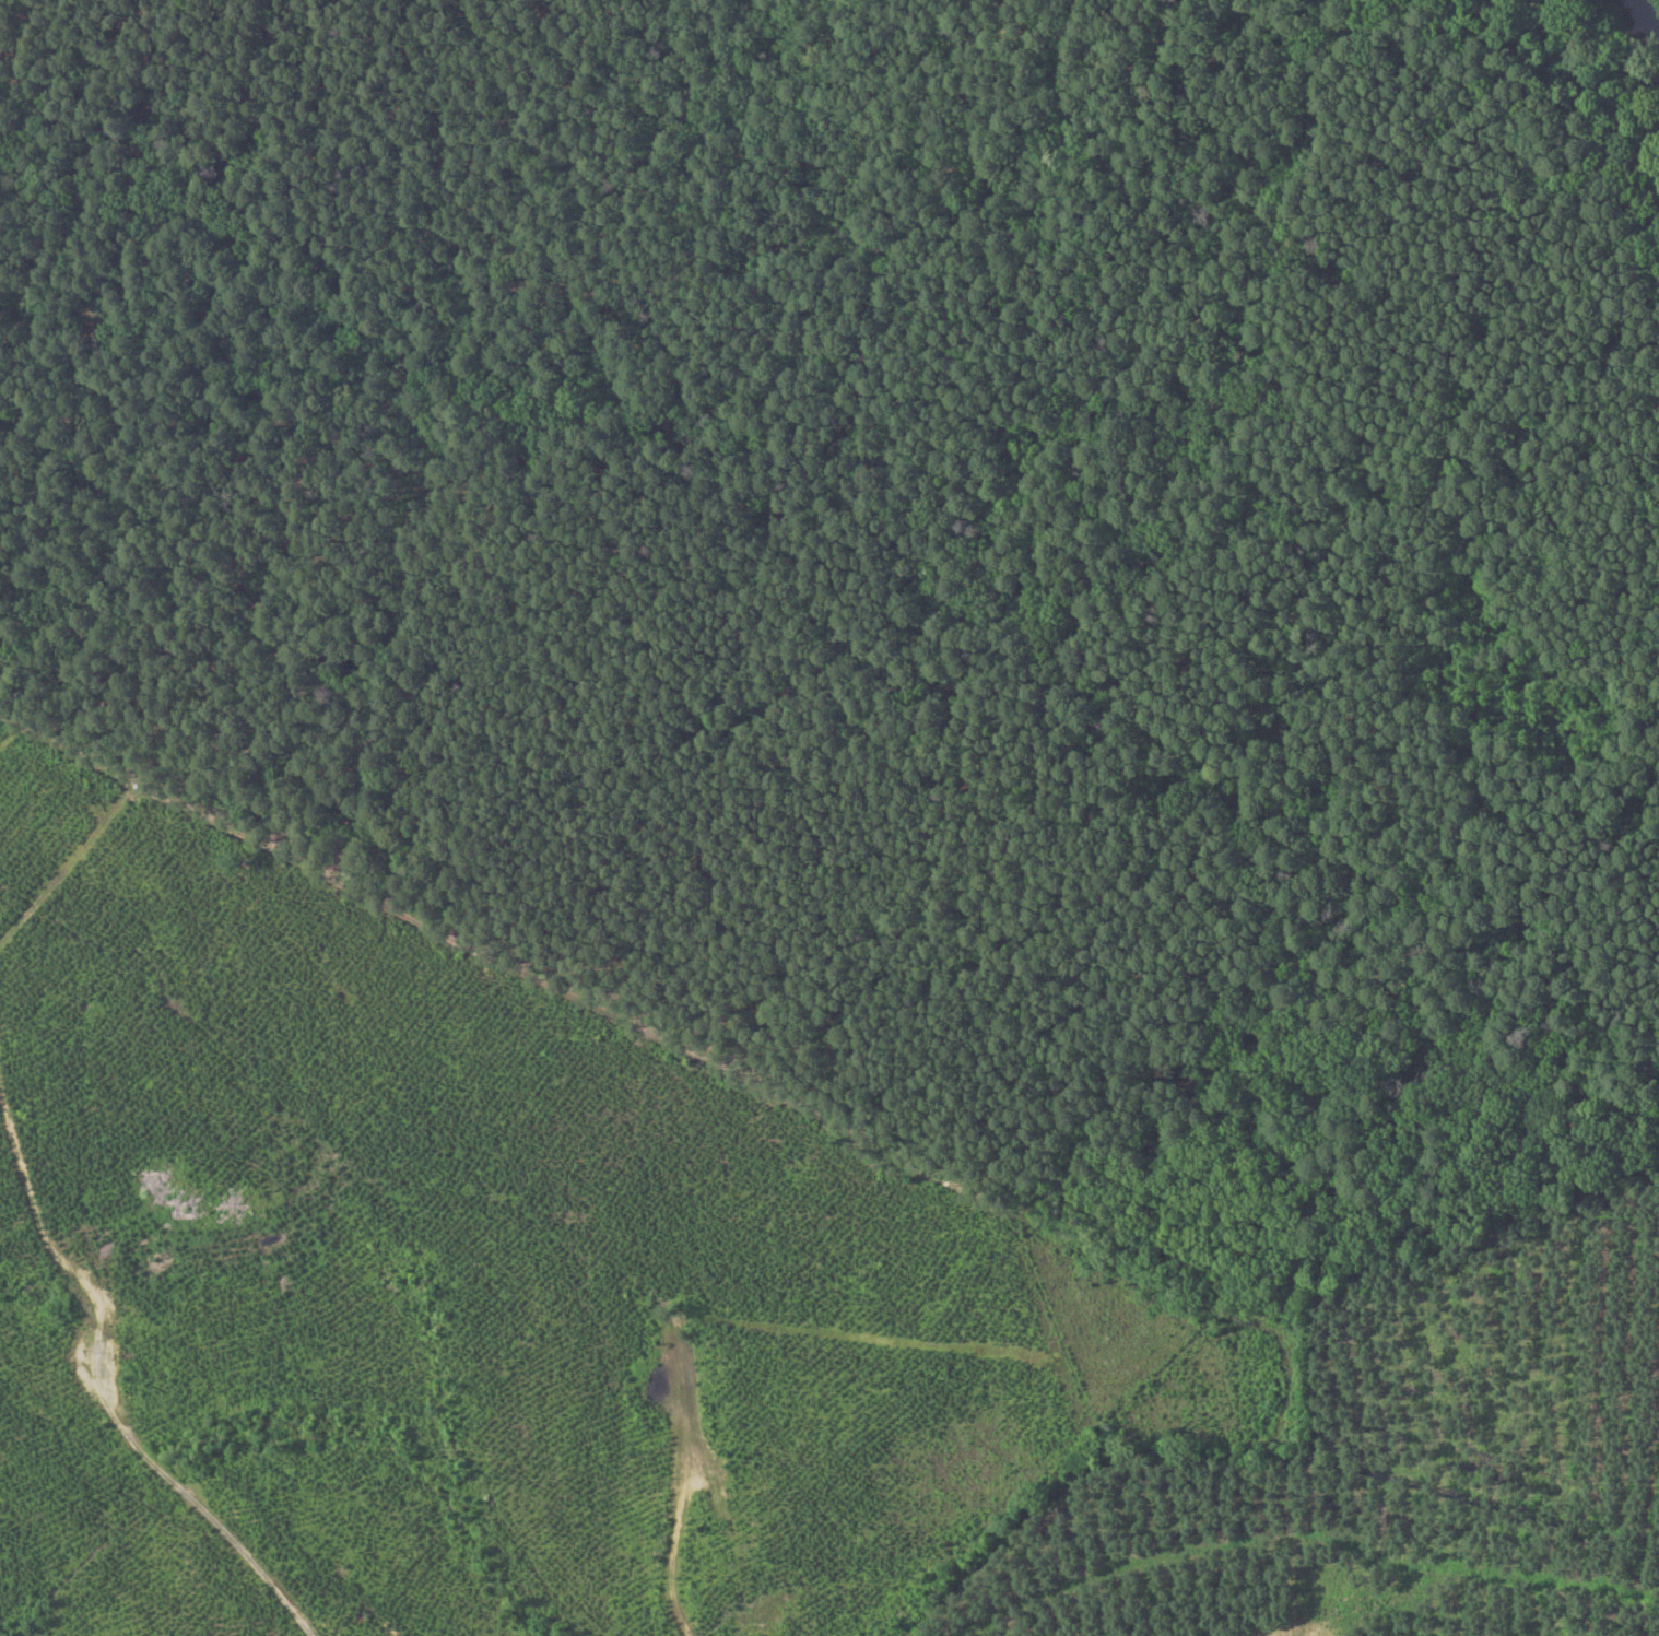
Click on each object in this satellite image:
river: (1658, 0)

